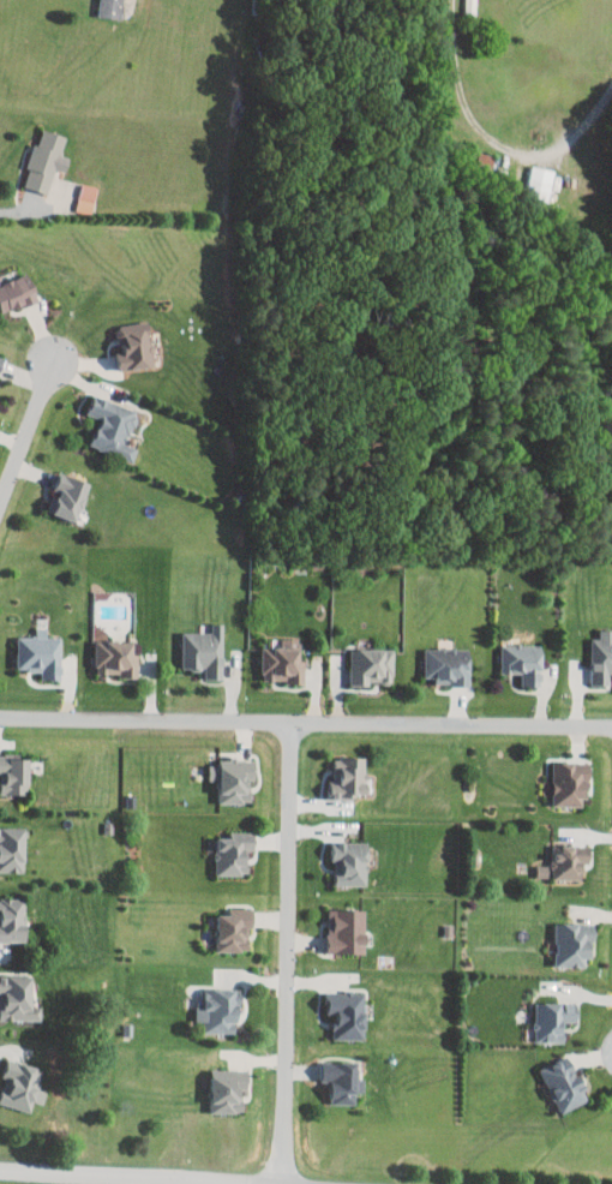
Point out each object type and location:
building: (98, 5)
road: (490, 134)
building: (35, 153)
building: (540, 183)
building: (73, 191)
road: (18, 210)
building: (14, 283)
building: (122, 339)
building: (102, 420)
road: (28, 432)
building: (61, 489)
building: (30, 648)
building: (199, 650)
building: (104, 651)
building: (601, 658)
building: (282, 662)
building: (522, 663)
building: (446, 665)
building: (371, 666)
road: (305, 722)
building: (10, 767)
building: (348, 779)
building: (232, 781)
building: (569, 785)
building: (7, 843)
building: (232, 855)
building: (349, 863)
building: (566, 865)
building: (542, 872)
building: (8, 915)
building: (233, 931)
building: (344, 932)
building: (572, 946)
road: (287, 952)
building: (13, 992)
building: (217, 1012)
building: (347, 1015)
building: (552, 1021)
building: (16, 1078)
building: (342, 1082)
building: (563, 1084)
building: (226, 1092)
road: (131, 1176)

